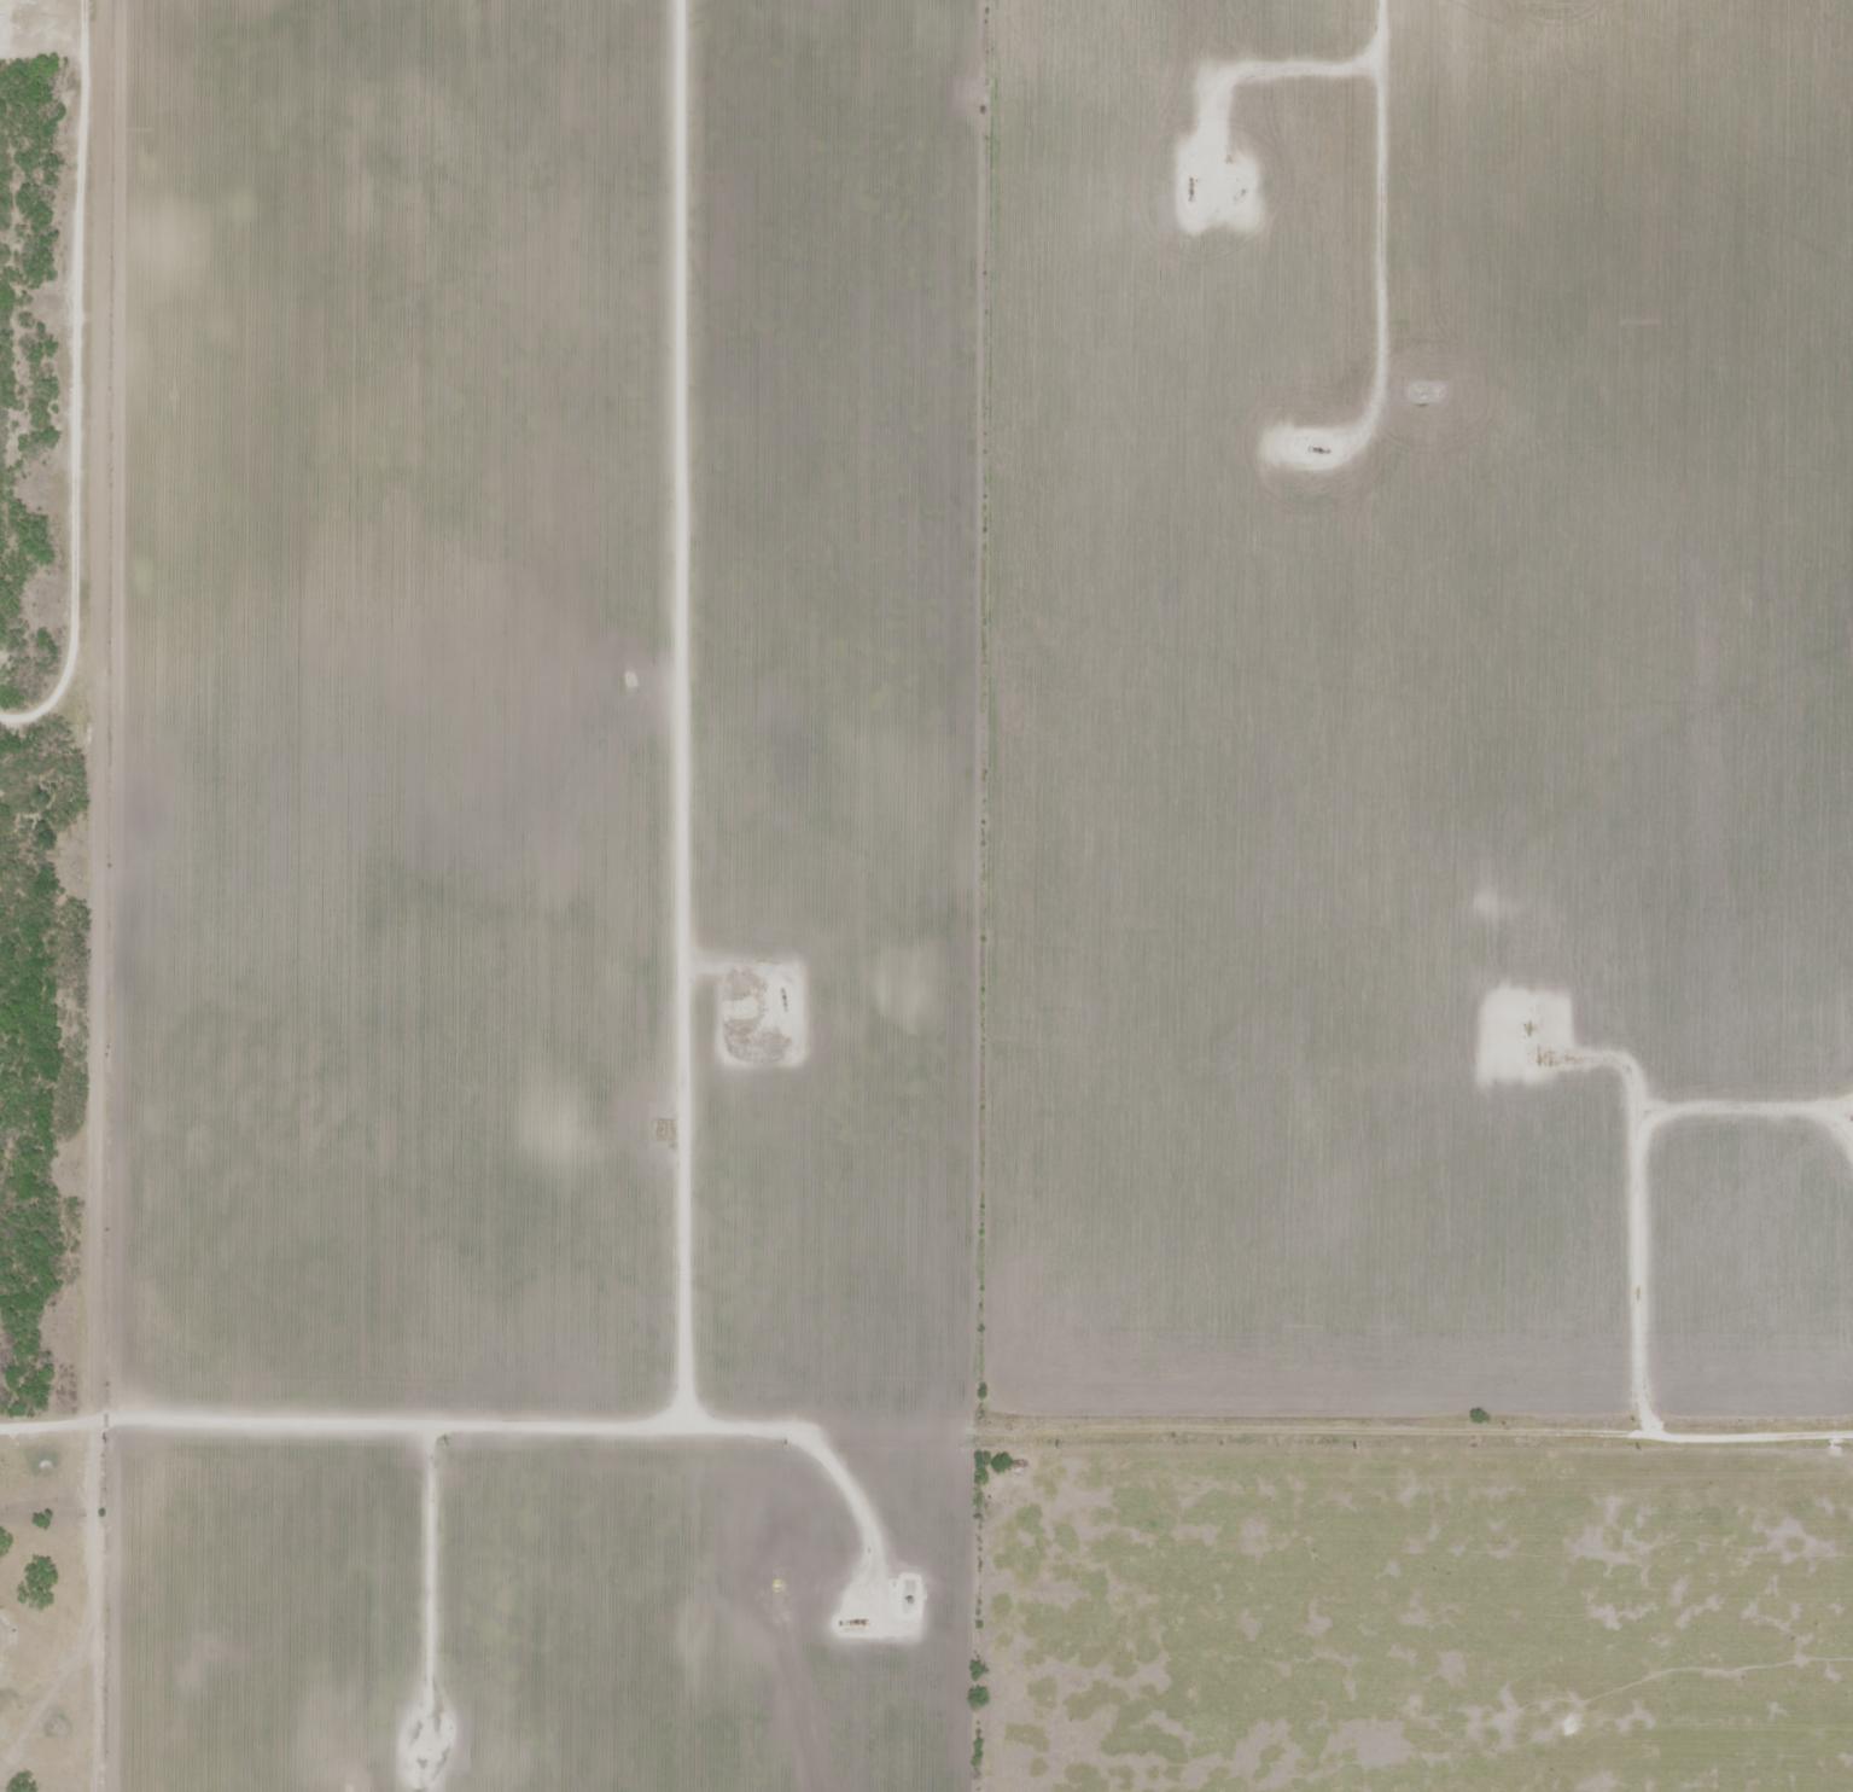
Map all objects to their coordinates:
road: (1380, 185)
road: (54, 263)
road: (1444, 706)
road: (926, 1418)
power tower: (104, 1443)
power tower: (444, 1444)
power tower: (783, 1448)
power tower: (1057, 1448)
power tower: (1353, 1448)
power tower: (1636, 1449)

